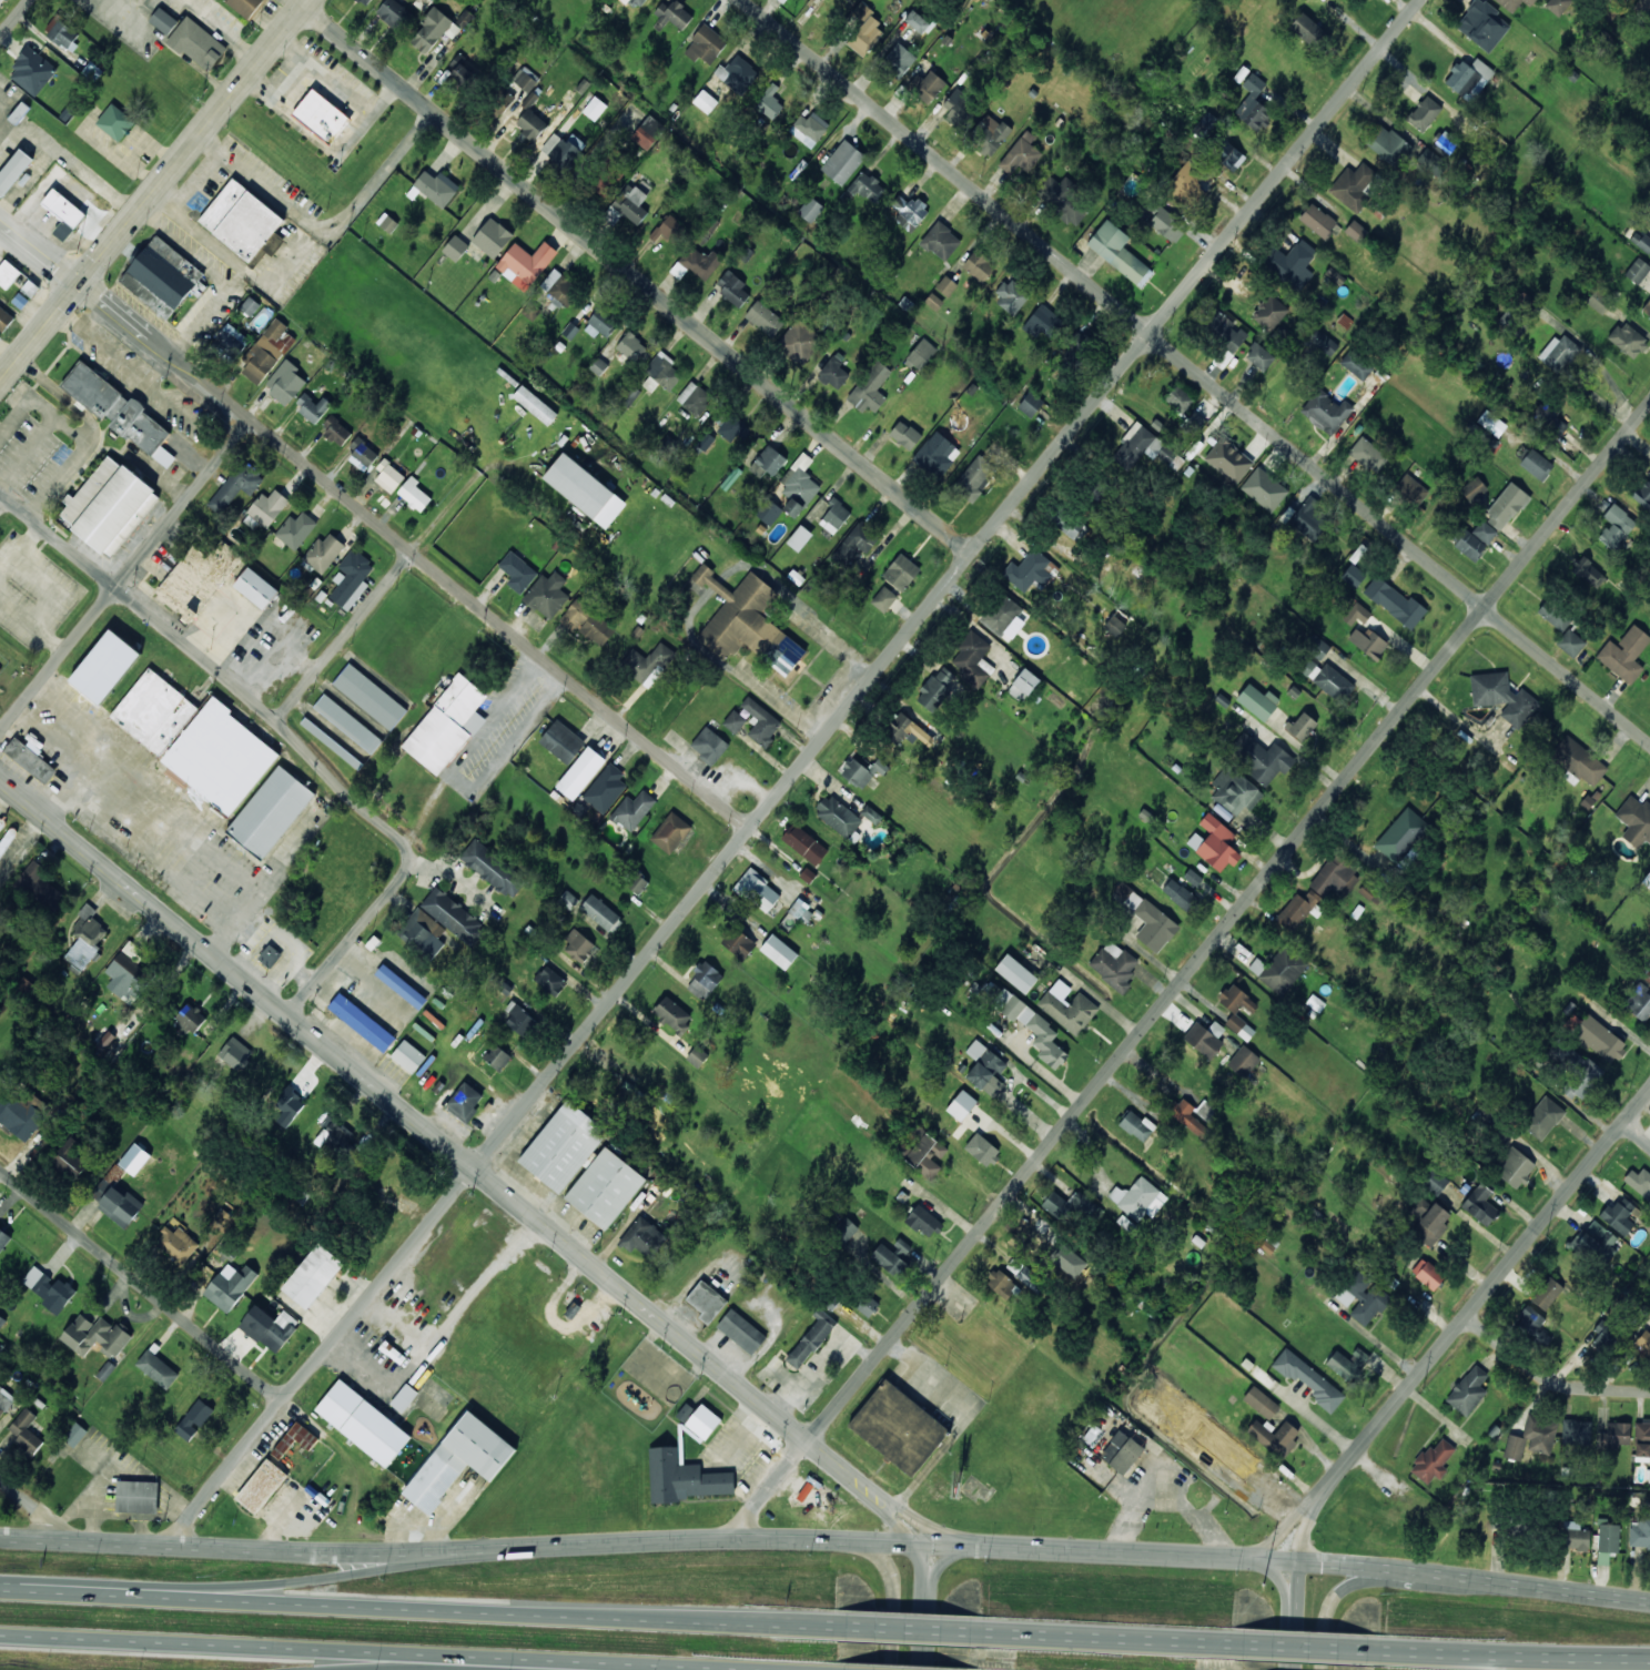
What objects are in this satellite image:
building: (782, 0)
building: (0, 1)
building: (365, 1)
building: (637, 2)
building: (1514, 3)
building: (245, 6)
building: (1558, 6)
building: (394, 13)
building: (674, 13)
road: (14, 18)
building: (163, 20)
building: (918, 22)
building: (1482, 24)
building: (864, 30)
building: (1308, 30)
building: (62, 32)
building: (198, 43)
building: (706, 44)
building: (899, 60)
building: (463, 69)
building: (32, 71)
building: (738, 73)
building: (1468, 78)
building: (525, 79)
building: (929, 87)
building: (529, 100)
building: (499, 101)
building: (705, 101)
building: (769, 101)
building: (1253, 104)
building: (960, 107)
building: (595, 108)
building: (1424, 113)
building: (321, 115)
building: (115, 122)
building: (530, 124)
building: (1205, 124)
building: (809, 129)
building: (648, 132)
building: (989, 134)
building: (1388, 144)
building: (1443, 145)
building: (560, 153)
building: (1021, 153)
building: (1227, 154)
building: (1430, 161)
building: (842, 162)
building: (13, 170)
building: (608, 178)
building: (866, 185)
building: (1187, 185)
building: (1352, 185)
building: (436, 186)
road: (153, 189)
building: (1065, 200)
building: (630, 203)
building: (811, 209)
building: (909, 211)
building: (64, 212)
building: (1161, 219)
building: (1317, 220)
building: (244, 222)
building: (387, 222)
building: (667, 229)
building: (1356, 230)
building: (492, 237)
building: (941, 241)
building: (455, 247)
building: (1118, 252)
building: (1649, 259)
building: (700, 262)
building: (525, 263)
building: (1290, 263)
building: (980, 264)
building: (1637, 271)
building: (8, 273)
building: (163, 276)
road: (637, 279)
building: (945, 285)
building: (30, 286)
building: (560, 287)
building: (732, 289)
building: (1012, 295)
building: (933, 301)
building: (1597, 304)
building: (250, 306)
building: (1647, 307)
building: (1269, 312)
building: (4, 318)
building: (765, 318)
building: (1042, 322)
building: (599, 324)
building: (570, 330)
building: (1224, 330)
building: (231, 337)
building: (1628, 340)
building: (800, 341)
building: (1324, 343)
building: (632, 347)
building: (266, 351)
building: (1560, 352)
building: (921, 354)
building: (1259, 356)
building: (1356, 364)
building: (598, 366)
road: (1195, 371)
building: (661, 372)
building: (833, 372)
building: (285, 382)
building: (870, 388)
building: (629, 395)
building: (695, 398)
building: (1180, 398)
building: (1030, 404)
building: (535, 405)
building: (313, 406)
building: (120, 412)
building: (1326, 412)
building: (1193, 423)
building: (1491, 423)
building: (733, 427)
building: (336, 431)
building: (904, 435)
building: (702, 443)
building: (1136, 445)
building: (363, 451)
building: (937, 454)
building: (1368, 454)
building: (1228, 459)
building: (768, 462)
building: (1536, 464)
building: (389, 473)
building: (973, 477)
building: (799, 485)
building: (235, 486)
building: (1264, 488)
building: (1472, 488)
building: (585, 489)
building: (1410, 489)
building: (415, 494)
building: (1643, 494)
building: (109, 505)
building: (1506, 505)
building: (267, 507)
building: (768, 510)
building: (834, 516)
building: (1307, 517)
road: (376, 522)
building: (1070, 525)
building: (1616, 526)
building: (296, 529)
building: (1484, 532)
building: (799, 537)
building: (861, 538)
building: (1467, 543)
building: (323, 551)
building: (517, 571)
building: (901, 571)
building: (1029, 571)
building: (1588, 573)
road: (123, 574)
building: (1353, 575)
building: (195, 578)
building: (351, 578)
road: (391, 578)
building: (255, 587)
building: (547, 595)
building: (884, 599)
building: (1395, 603)
building: (1356, 614)
building: (1555, 614)
building: (1004, 616)
building: (587, 623)
building: (1117, 623)
building: (748, 624)
building: (1368, 642)
building: (1570, 642)
building: (1316, 647)
building: (1624, 654)
building: (972, 659)
building: (647, 664)
building: (104, 667)
building: (1324, 677)
building: (1023, 685)
building: (937, 688)
building: (370, 696)
building: (1502, 696)
building: (1258, 701)
building: (735, 721)
building: (761, 721)
building: (347, 722)
building: (446, 723)
building: (1302, 726)
building: (904, 729)
road: (285, 735)
building: (195, 739)
building: (561, 741)
building: (709, 745)
building: (1262, 759)
building: (30, 760)
building: (1579, 761)
building: (862, 771)
building: (580, 772)
road: (793, 772)
building: (605, 788)
building: (1233, 792)
building: (632, 810)
building: (271, 811)
building: (871, 813)
building: (838, 816)
building: (1636, 820)
building: (670, 832)
building: (1400, 833)
building: (804, 843)
building: (1215, 843)
building: (493, 868)
building: (1192, 877)
building: (1335, 877)
building: (1647, 880)
building: (636, 882)
building: (39, 884)
building: (758, 890)
building: (1369, 892)
building: (1178, 893)
building: (568, 899)
building: (801, 910)
building: (1296, 910)
building: (601, 913)
building: (454, 917)
building: (1146, 918)
building: (423, 932)
building: (84, 939)
building: (738, 942)
building: (579, 947)
building: (779, 951)
building: (270, 955)
building: (1114, 965)
building: (1279, 969)
road: (1187, 971)
building: (1016, 973)
building: (125, 978)
building: (550, 980)
building: (703, 980)
building: (401, 985)
building: (24, 986)
building: (1315, 1003)
building: (1639, 1003)
building: (1067, 1006)
building: (1238, 1010)
building: (672, 1014)
building: (189, 1018)
building: (519, 1019)
building: (1028, 1021)
building: (362, 1022)
building: (1595, 1036)
building: (1205, 1038)
building: (235, 1053)
building: (408, 1056)
building: (697, 1056)
building: (497, 1057)
building: (1243, 1061)
building: (983, 1064)
building: (1580, 1079)
building: (464, 1102)
building: (961, 1104)
building: (289, 1106)
building: (1185, 1115)
building: (20, 1117)
building: (1543, 1117)
road: (422, 1125)
building: (1136, 1125)
road: (1637, 1132)
building: (335, 1135)
building: (563, 1145)
building: (981, 1148)
building: (927, 1155)
building: (70, 1158)
building: (134, 1158)
building: (1514, 1166)
building: (1431, 1180)
building: (1640, 1180)
building: (605, 1187)
building: (1138, 1198)
building: (117, 1203)
building: (1069, 1204)
building: (1480, 1205)
building: (1620, 1215)
building: (223, 1216)
building: (923, 1218)
building: (1429, 1221)
building: (846, 1229)
building: (642, 1237)
building: (3, 1238)
building: (1596, 1242)
building: (178, 1243)
building: (902, 1247)
building: (890, 1261)
building: (1427, 1273)
building: (313, 1275)
building: (1025, 1275)
building: (1001, 1283)
road: (141, 1284)
building: (230, 1285)
building: (49, 1286)
road: (1484, 1293)
building: (1546, 1293)
building: (1361, 1297)
building: (706, 1300)
building: (868, 1305)
building: (1528, 1319)
building: (2, 1320)
building: (270, 1327)
building: (741, 1330)
building: (95, 1335)
building: (1603, 1337)
building: (1542, 1338)
building: (810, 1339)
building: (1643, 1343)
building: (1346, 1363)
building: (156, 1367)
building: (105, 1369)
building: (1263, 1377)
building: (1308, 1378)
road: (1547, 1378)
parking lot: (937, 1389)
building: (1468, 1390)
building: (404, 1397)
building: (4, 1399)
building: (1261, 1401)
building: (685, 1411)
road: (968, 1415)
building: (194, 1419)
building: (363, 1423)
building: (701, 1423)
building: (898, 1428)
building: (1576, 1431)
building: (26, 1433)
building: (75, 1434)
building: (1617, 1434)
building: (1274, 1436)
building: (1531, 1437)
building: (295, 1439)
building: (1642, 1440)
building: (1122, 1451)
building: (458, 1460)
building: (1433, 1461)
building: (1649, 1476)
building: (685, 1477)
building: (261, 1486)
road: (867, 1489)
building: (136, 1496)
road: (38, 1509)
road: (898, 1526)
road: (1285, 1528)
road: (930, 1529)
road: (1306, 1529)
building: (1640, 1530)
building: (1575, 1536)
road: (82, 1540)
building: (1606, 1541)
road: (908, 1542)
road: (917, 1558)
road: (948, 1559)
road: (365, 1572)
road: (1279, 1581)
road: (922, 1587)
road: (928, 1590)
road: (891, 1601)
road: (1329, 1605)
road: (413, 1607)
road: (1295, 1615)
road: (907, 1628)
road: (921, 1634)
road: (1106, 1638)
road: (1304, 1648)
road: (353, 1652)
road: (1516, 1653)
road: (462, 1666)

